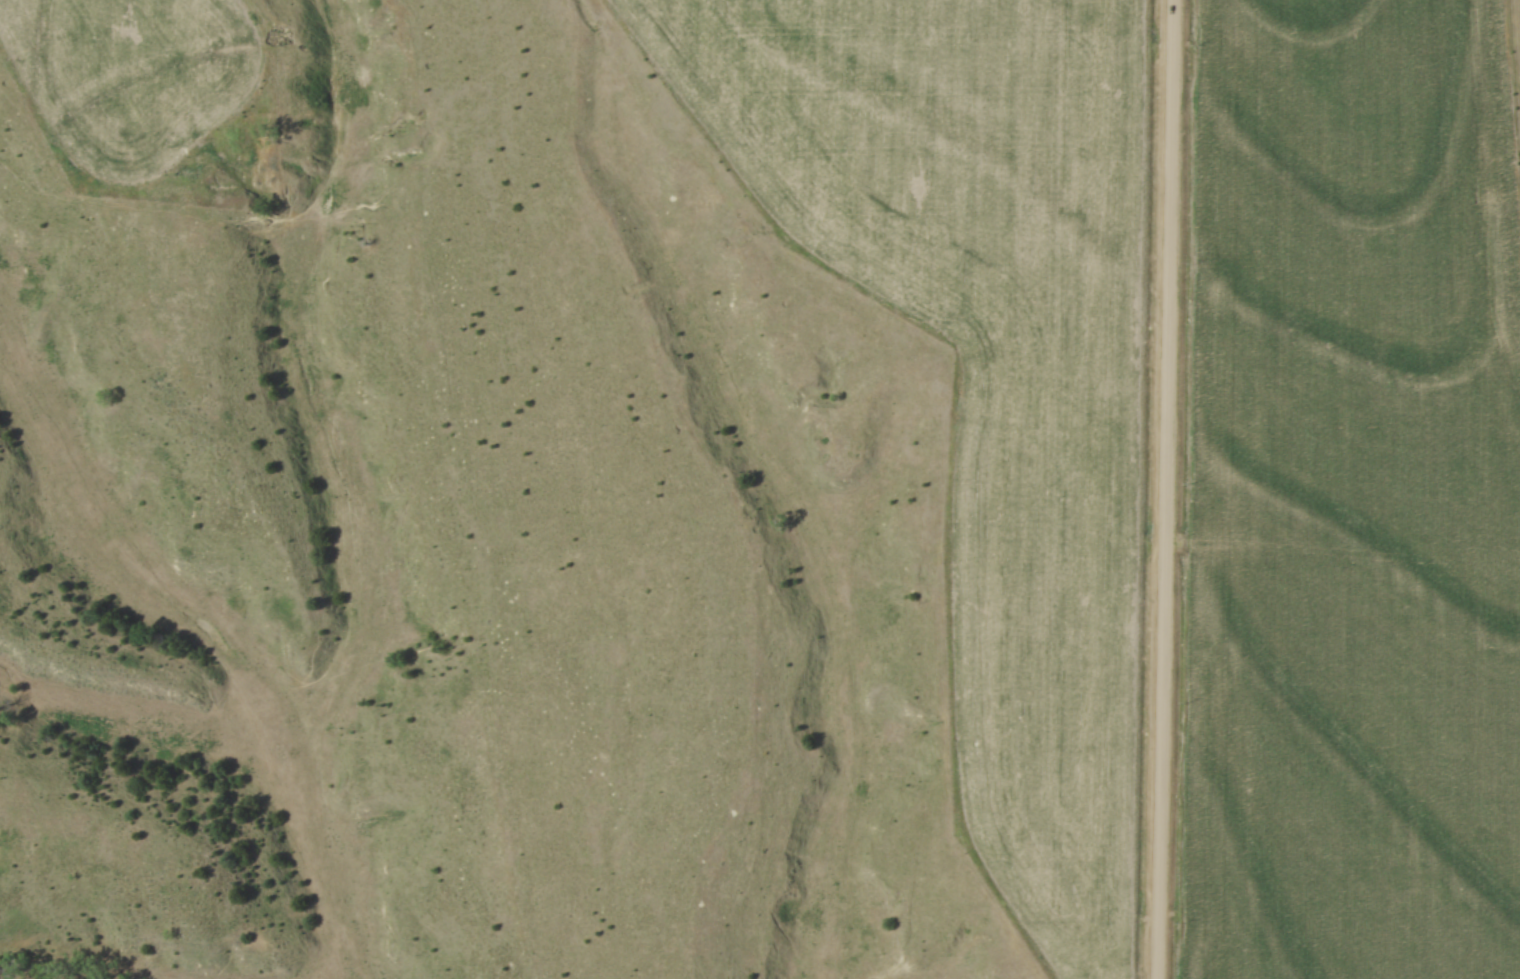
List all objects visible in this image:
road: (1164, 489)

